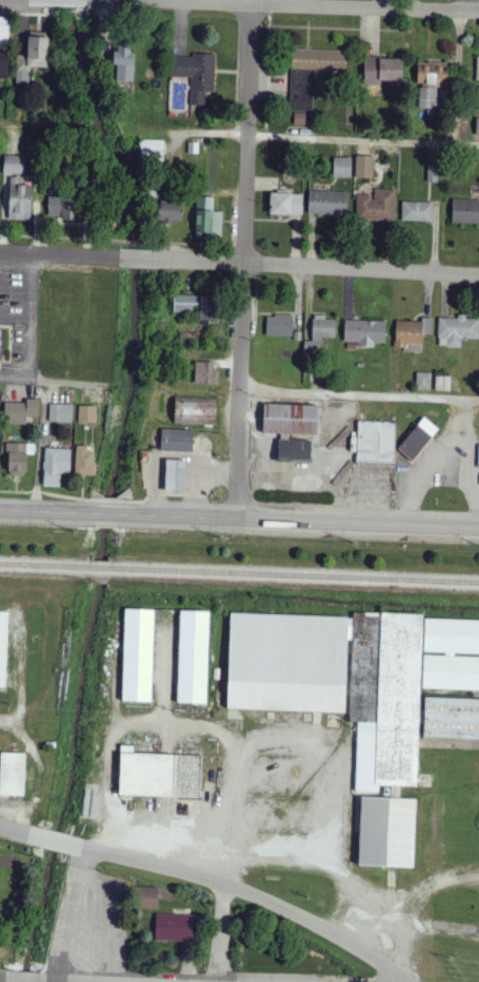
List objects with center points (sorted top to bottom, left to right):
road: (173, 1)
road: (304, 7)
building: (4, 47)
building: (38, 50)
building: (125, 62)
building: (384, 69)
building: (478, 69)
building: (196, 74)
building: (311, 74)
building: (433, 74)
building: (22, 75)
building: (428, 98)
building: (300, 119)
building: (478, 126)
road: (363, 137)
building: (152, 150)
building: (14, 165)
building: (342, 167)
building: (365, 167)
building: (433, 173)
building: (20, 201)
building: (328, 203)
building: (286, 204)
building: (377, 205)
building: (64, 207)
building: (170, 211)
building: (417, 211)
building: (465, 211)
building: (208, 220)
road: (61, 237)
road: (139, 242)
road: (191, 245)
road: (60, 257)
road: (136, 260)
road: (243, 261)
road: (315, 267)
building: (198, 308)
parking lot: (20, 309)
road: (30, 314)
building: (280, 325)
building: (457, 331)
building: (365, 333)
building: (408, 333)
building: (319, 335)
building: (299, 336)
building: (1, 344)
road: (8, 365)
road: (8, 368)
building: (206, 373)
building: (424, 381)
building: (443, 383)
road: (358, 392)
building: (195, 410)
building: (21, 412)
building: (61, 413)
building: (87, 414)
building: (291, 430)
building: (418, 438)
building: (177, 440)
gas station: (177, 440)
building: (377, 442)
parking lot: (312, 456)
building: (18, 458)
building: (478, 458)
building: (85, 461)
parking lot: (443, 462)
building: (56, 466)
gas station: (177, 475)
building: (176, 476)
parking lot: (372, 487)
road: (47, 512)
road: (112, 514)
road: (305, 521)
railway: (239, 574)
building: (451, 636)
building: (3, 647)
building: (138, 655)
building: (193, 657)
building: (451, 673)
road: (6, 726)
building: (387, 759)
building: (12, 774)
building: (159, 775)
road: (14, 831)
road: (55, 843)
road: (250, 850)
road: (223, 856)
road: (255, 896)
building: (146, 898)
building: (174, 928)
road: (15, 981)

